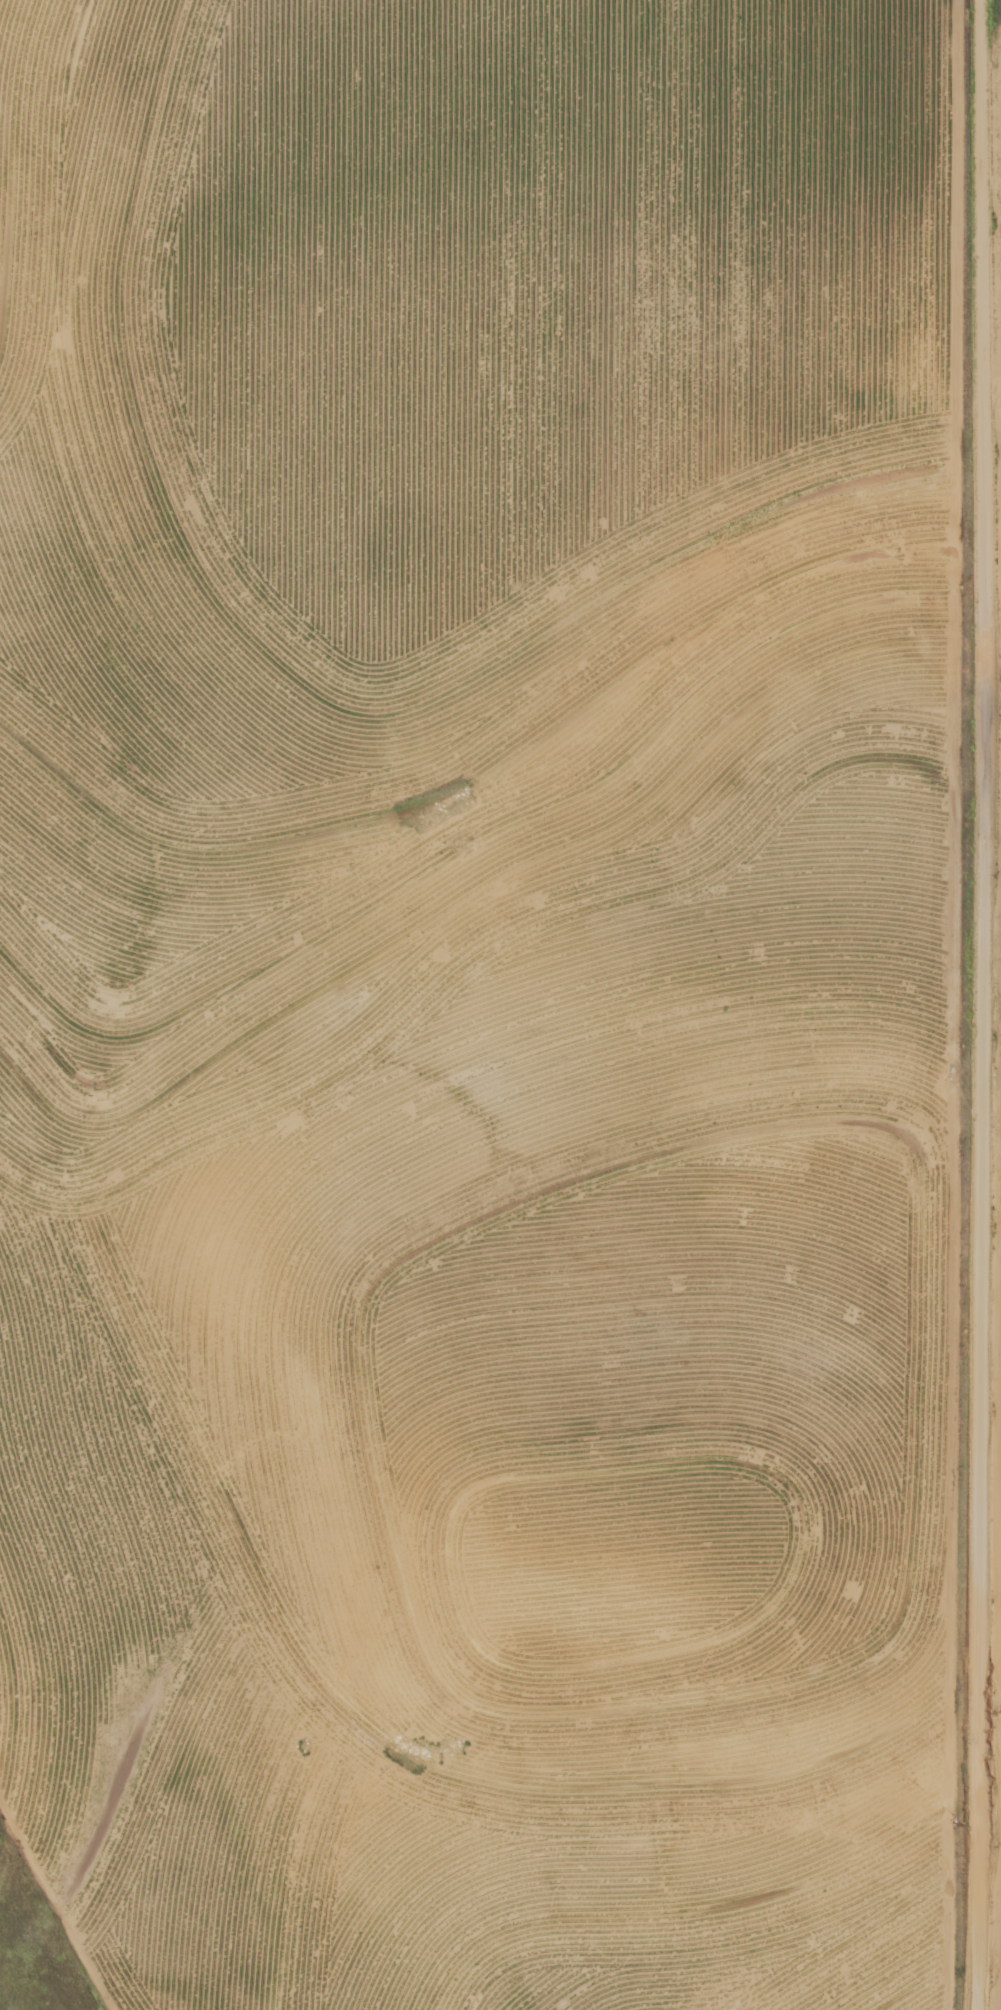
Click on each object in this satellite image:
road: (985, 1004)

